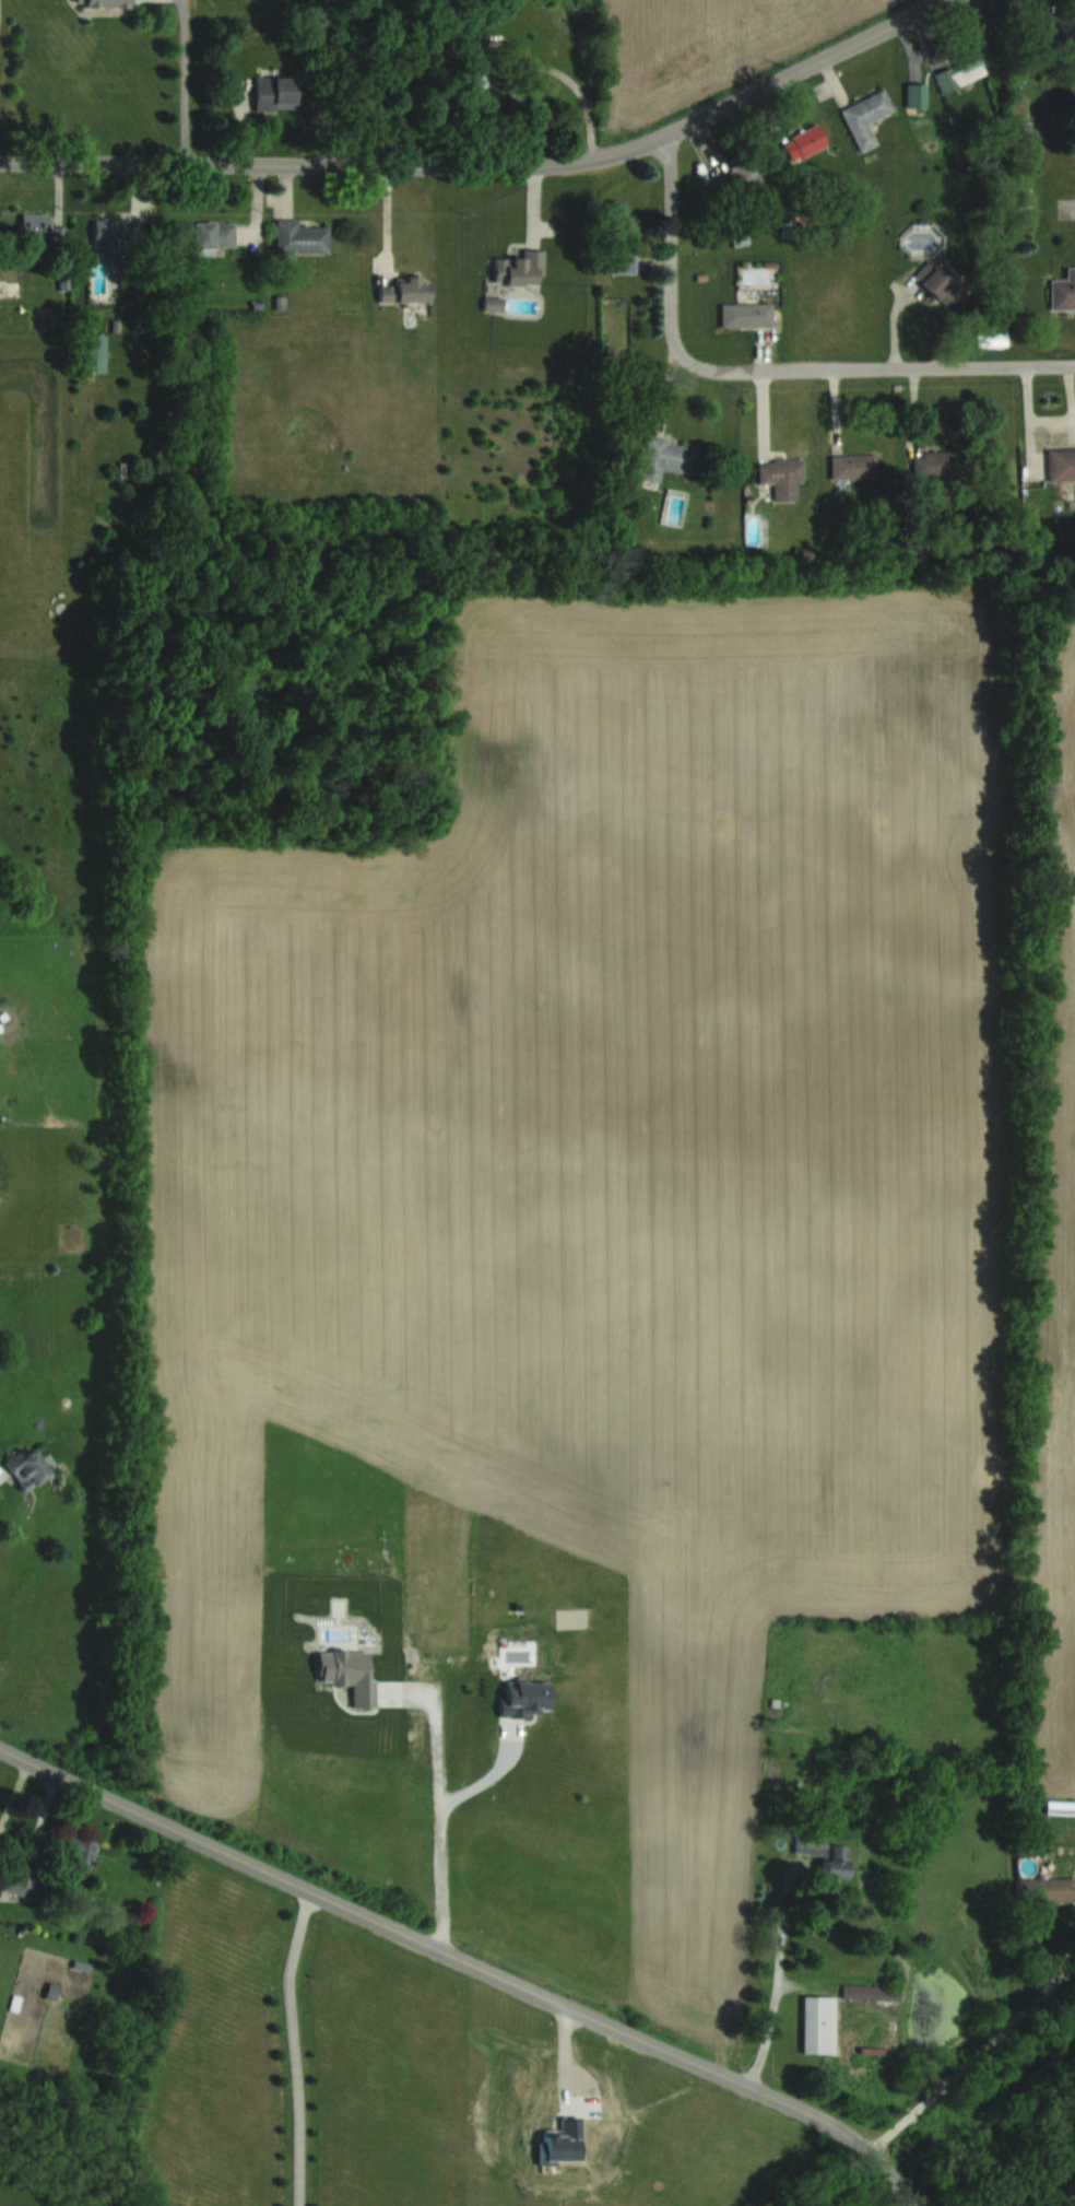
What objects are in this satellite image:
building: (102, 3)
building: (1058, 28)
crop: (700, 49)
road: (537, 63)
building: (964, 68)
road: (185, 81)
road: (322, 82)
road: (402, 83)
building: (479, 85)
building: (273, 93)
building: (865, 117)
building: (806, 141)
road: (491, 166)
building: (741, 176)
building: (37, 227)
building: (205, 236)
building: (117, 237)
building: (299, 237)
road: (674, 237)
building: (621, 244)
building: (519, 269)
building: (937, 283)
building: (9, 289)
building: (1063, 289)
building: (405, 291)
building: (746, 314)
building: (93, 352)
road: (869, 366)
building: (666, 458)
building: (1061, 464)
building: (933, 465)
building: (852, 466)
building: (781, 478)
building: (910, 551)
crop: (1062, 1309)
building: (26, 1467)
road: (0, 1468)
building: (524, 1697)
road: (491, 1779)
road: (441, 1822)
building: (73, 1850)
building: (823, 1852)
building: (1046, 1890)
road: (466, 1960)
road: (778, 1988)
building: (870, 1991)
building: (817, 2023)
road: (989, 2043)
road: (294, 2046)

